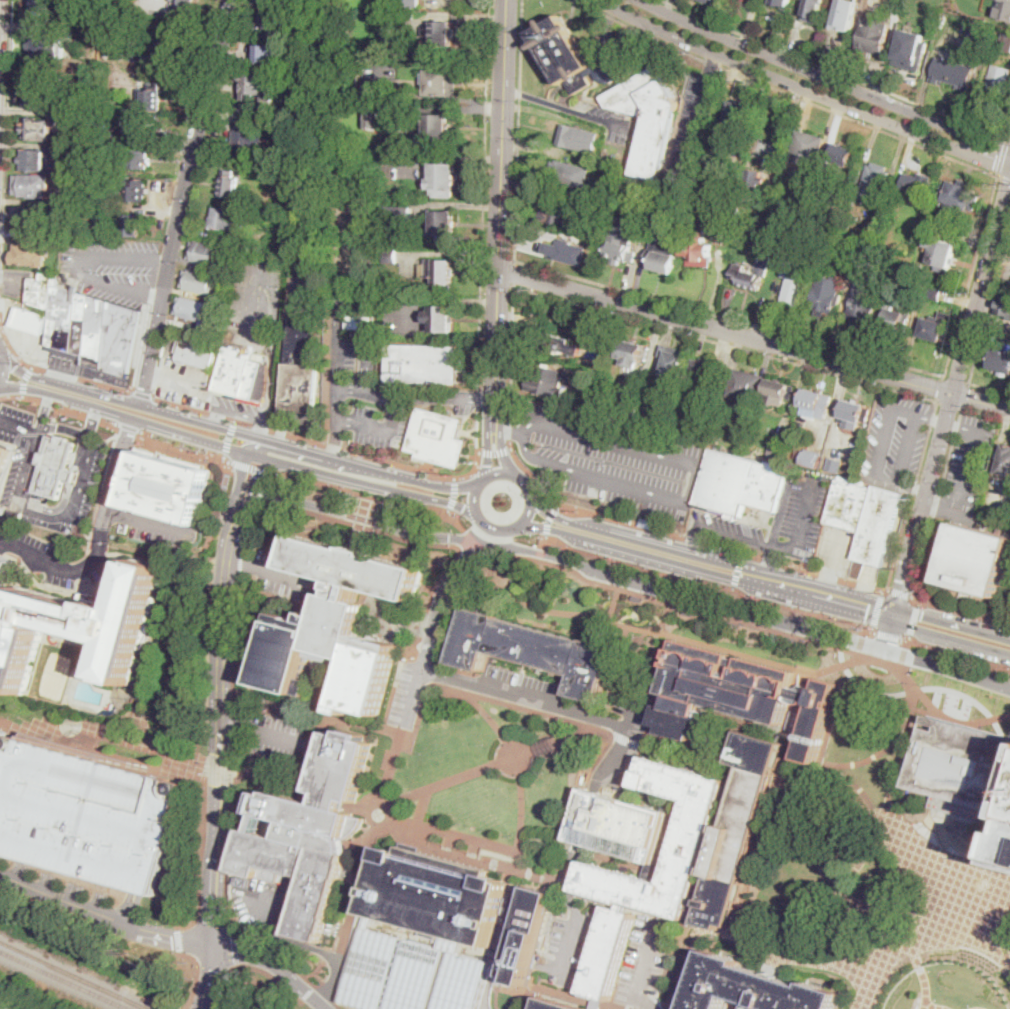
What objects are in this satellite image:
building: (272, 1)
building: (710, 1)
building: (411, 2)
building: (781, 2)
building: (375, 3)
road: (669, 5)
building: (182, 6)
building: (46, 7)
building: (1000, 8)
building: (813, 10)
building: (131, 11)
building: (922, 11)
building: (408, 14)
building: (846, 15)
building: (276, 20)
building: (981, 30)
building: (94, 31)
road: (641, 32)
building: (175, 33)
building: (443, 33)
building: (874, 36)
building: (140, 39)
building: (1006, 42)
building: (111, 43)
building: (46, 46)
building: (911, 48)
building: (269, 53)
building: (107, 54)
road: (713, 62)
road: (712, 65)
road: (834, 70)
building: (954, 74)
road: (825, 76)
building: (445, 84)
building: (260, 86)
building: (996, 86)
road: (803, 88)
building: (615, 91)
building: (42, 93)
building: (400, 94)
building: (149, 96)
road: (536, 98)
building: (94, 109)
building: (321, 112)
building: (375, 117)
road: (603, 119)
building: (88, 120)
building: (739, 120)
road: (859, 120)
building: (115, 124)
building: (38, 129)
building: (143, 129)
road: (519, 129)
building: (94, 131)
building: (435, 131)
road: (694, 131)
building: (579, 138)
road: (1008, 138)
road: (1009, 138)
building: (245, 142)
road: (6, 147)
building: (807, 149)
building: (110, 150)
building: (87, 153)
building: (844, 154)
road: (1002, 155)
building: (137, 159)
building: (40, 160)
traffic signals: (994, 164)
building: (568, 175)
road: (1003, 178)
building: (443, 180)
building: (752, 183)
building: (874, 183)
building: (230, 184)
building: (637, 184)
traffic signals: (1009, 184)
building: (917, 185)
building: (33, 186)
building: (132, 191)
building: (959, 198)
road: (187, 202)
building: (821, 205)
building: (663, 210)
building: (105, 211)
building: (557, 211)
building: (738, 213)
road: (499, 214)
building: (701, 215)
building: (30, 216)
building: (388, 216)
building: (225, 219)
building: (723, 221)
building: (311, 224)
building: (130, 225)
building: (443, 225)
building: (786, 225)
building: (288, 234)
building: (789, 240)
building: (54, 242)
building: (621, 243)
building: (698, 248)
road: (351, 250)
building: (941, 251)
building: (565, 252)
building: (206, 253)
building: (30, 254)
building: (390, 256)
building: (663, 256)
building: (305, 257)
building: (847, 259)
building: (864, 263)
road: (83, 264)
parking lot: (114, 267)
road: (514, 271)
building: (441, 273)
building: (747, 277)
building: (794, 277)
building: (199, 280)
building: (919, 289)
building: (935, 293)
road: (307, 295)
building: (827, 295)
building: (219, 297)
building: (865, 302)
road: (340, 304)
building: (1004, 305)
building: (533, 309)
road: (989, 309)
building: (196, 310)
road: (253, 312)
road: (0, 318)
building: (897, 318)
building: (1009, 318)
building: (441, 320)
building: (30, 321)
building: (361, 321)
building: (88, 325)
building: (936, 326)
road: (753, 338)
building: (563, 344)
road: (725, 344)
road: (832, 347)
road: (369, 349)
road: (2, 351)
road: (339, 352)
building: (633, 353)
building: (196, 354)
building: (256, 356)
road: (283, 359)
building: (1001, 359)
road: (511, 361)
building: (673, 362)
parking lot: (64, 364)
building: (425, 364)
building: (302, 368)
road: (5, 369)
building: (243, 377)
building: (707, 377)
road: (24, 379)
building: (588, 380)
road: (958, 380)
road: (270, 382)
parking lot: (182, 383)
building: (547, 383)
building: (746, 386)
road: (943, 389)
road: (990, 389)
building: (779, 392)
road: (953, 394)
road: (108, 395)
road: (966, 396)
road: (402, 397)
road: (480, 400)
building: (816, 403)
road: (61, 405)
road: (951, 405)
building: (630, 411)
road: (905, 412)
road: (243, 414)
building: (854, 414)
road: (986, 414)
road: (126, 415)
road: (339, 415)
building: (649, 415)
road: (297, 416)
road: (219, 417)
road: (931, 418)
road: (953, 425)
road: (129, 427)
road: (18, 428)
road: (64, 429)
road: (262, 429)
road: (279, 429)
road: (506, 429)
road: (237, 432)
road: (383, 432)
parking lot: (896, 436)
road: (229, 437)
building: (438, 438)
road: (266, 440)
road: (276, 443)
road: (885, 443)
road: (260, 444)
road: (925, 444)
road: (184, 448)
building: (778, 448)
road: (908, 449)
road: (501, 451)
road: (489, 452)
road: (494, 452)
building: (3, 456)
road: (972, 458)
parking lot: (608, 459)
building: (812, 459)
road: (948, 461)
building: (1005, 461)
building: (834, 465)
parking lot: (968, 465)
road: (250, 466)
parking lot: (22, 467)
building: (56, 467)
road: (377, 470)
road: (247, 471)
road: (498, 473)
road: (441, 475)
road: (268, 478)
road: (811, 479)
road: (888, 480)
road: (482, 481)
building: (739, 481)
road: (365, 482)
road: (524, 483)
road: (691, 483)
building: (167, 487)
road: (912, 488)
road: (453, 493)
road: (360, 494)
road: (261, 495)
road: (943, 497)
road: (473, 499)
road: (57, 509)
building: (6, 512)
road: (447, 512)
road: (527, 512)
building: (628, 515)
road: (41, 516)
building: (866, 517)
road: (361, 520)
road: (549, 520)
parking lot: (777, 520)
road: (482, 522)
road: (151, 523)
road: (454, 525)
parking lot: (881, 525)
road: (247, 527)
parking lot: (161, 529)
road: (504, 529)
road: (487, 532)
road: (458, 536)
road: (683, 536)
road: (734, 536)
road: (99, 538)
road: (689, 539)
road: (900, 540)
road: (197, 544)
road: (460, 545)
road: (836, 549)
parking lot: (837, 549)
road: (922, 554)
road: (470, 555)
parking lot: (52, 556)
road: (710, 559)
road: (773, 559)
building: (976, 559)
road: (242, 562)
building: (4, 569)
parking garage: (4, 569)
road: (705, 570)
road: (273, 571)
parking lot: (281, 576)
road: (828, 577)
road: (867, 580)
road: (100, 581)
traffic signals: (904, 581)
road: (699, 582)
road: (684, 593)
road: (900, 593)
road: (918, 604)
road: (878, 609)
road: (959, 612)
road: (668, 613)
traffic signals: (866, 614)
road: (895, 615)
traffic signals: (921, 616)
road: (927, 617)
road: (221, 621)
road: (444, 621)
road: (913, 621)
road: (750, 623)
building: (338, 624)
building: (735, 624)
road: (432, 626)
building: (85, 627)
road: (889, 633)
road: (984, 633)
road: (889, 636)
road: (909, 637)
road: (951, 638)
building: (795, 640)
traffic signals: (889, 641)
building: (534, 651)
road: (954, 651)
road: (737, 654)
road: (902, 655)
road: (149, 668)
road: (615, 672)
road: (964, 673)
park: (54, 676)
parking lot: (523, 680)
road: (945, 691)
building: (973, 691)
building: (738, 694)
parking lot: (400, 696)
road: (470, 699)
road: (488, 700)
road: (946, 700)
street lamp: (484, 703)
road: (315, 714)
road: (630, 714)
street lamp: (527, 715)
road: (619, 726)
street lamp: (421, 727)
road: (795, 728)
street lamp: (529, 729)
road: (558, 730)
road: (403, 731)
road: (260, 736)
parking lot: (272, 739)
road: (510, 740)
road: (563, 740)
road: (626, 741)
building: (546, 744)
street lamp: (482, 746)
road: (903, 750)
street lamp: (420, 754)
road: (182, 762)
road: (392, 765)
building: (963, 768)
street lamp: (397, 769)
road: (218, 770)
street lamp: (542, 773)
park: (497, 774)
road: (759, 778)
road: (446, 783)
street lamp: (498, 789)
road: (586, 789)
street lamp: (527, 798)
road: (422, 807)
street lamp: (400, 809)
road: (362, 811)
building: (86, 812)
parking garage: (86, 812)
street lamp: (413, 812)
street lamp: (406, 816)
street lamp: (525, 816)
street lamp: (435, 818)
road: (230, 824)
road: (520, 824)
street lamp: (460, 825)
road: (935, 826)
building: (742, 828)
building: (627, 829)
street lamp: (484, 831)
building: (309, 833)
road: (459, 835)
street lamp: (508, 837)
road: (544, 841)
road: (449, 843)
road: (439, 850)
road: (474, 850)
road: (819, 851)
road: (497, 855)
road: (995, 858)
building: (1003, 860)
road: (551, 861)
road: (511, 868)
road: (213, 869)
road: (536, 876)
building: (616, 880)
road: (550, 881)
road: (95, 883)
road: (564, 887)
road: (198, 888)
road: (358, 890)
road: (832, 893)
building: (436, 894)
road: (131, 907)
road: (925, 908)
road: (649, 914)
road: (104, 917)
road: (209, 921)
road: (713, 931)
road: (510, 934)
building: (528, 935)
road: (703, 935)
road: (178, 938)
road: (289, 942)
parking lot: (570, 948)
road: (567, 950)
traffic signals: (213, 951)
road: (233, 952)
road: (645, 955)
road: (782, 957)
road: (780, 958)
parking lot: (641, 960)
road: (250, 967)
road: (275, 967)
building: (368, 968)
railway: (76, 974)
road: (197, 974)
road: (680, 974)
road: (334, 977)
building: (435, 977)
railway: (67, 978)
road: (317, 978)
road: (207, 980)
road: (925, 980)
road: (489, 985)
road: (319, 986)
building: (752, 988)
road: (561, 991)
road: (308, 994)
road: (564, 997)
road: (645, 1002)
building: (597, 1003)
building: (557, 1005)
road: (936, 1007)
road: (0, 1008)

